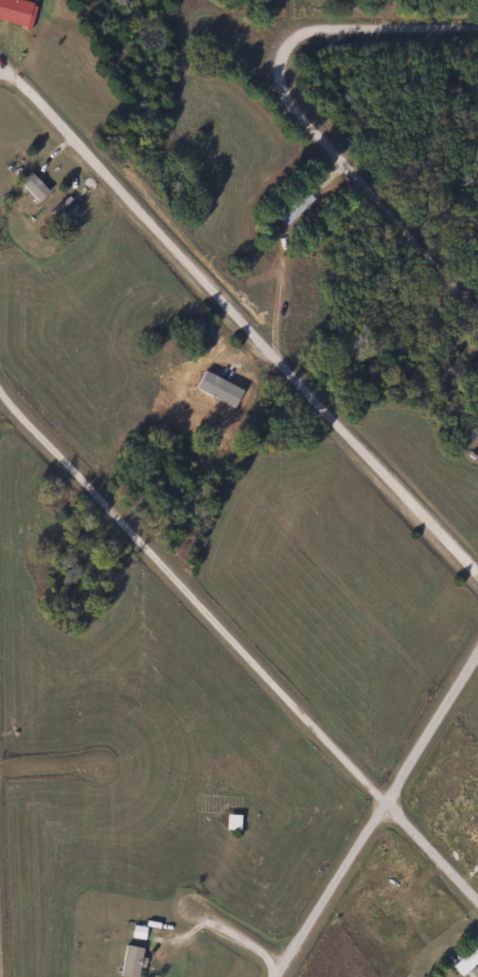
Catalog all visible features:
road: (379, 28)
road: (366, 182)
building: (32, 186)
road: (241, 316)
road: (236, 640)
road: (68, 784)
road: (377, 818)
building: (230, 822)
building: (463, 826)
building: (390, 884)
building: (136, 932)
road: (238, 939)
building: (128, 961)
building: (467, 964)

